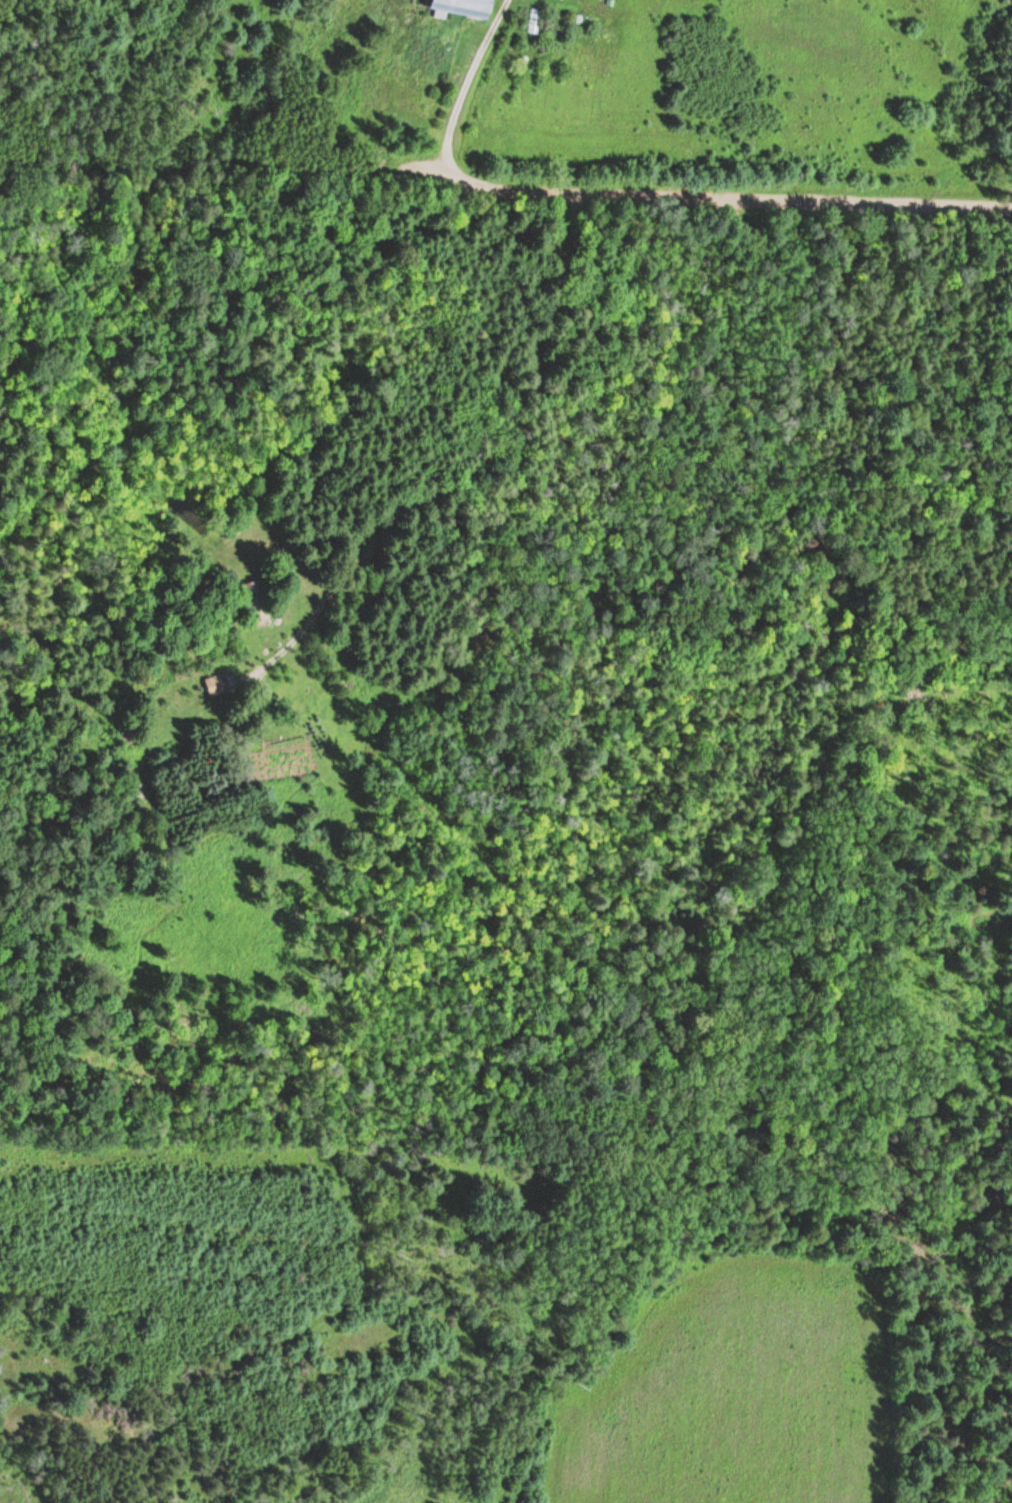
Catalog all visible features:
building: (460, 7)
road: (735, 192)
building: (253, 608)

